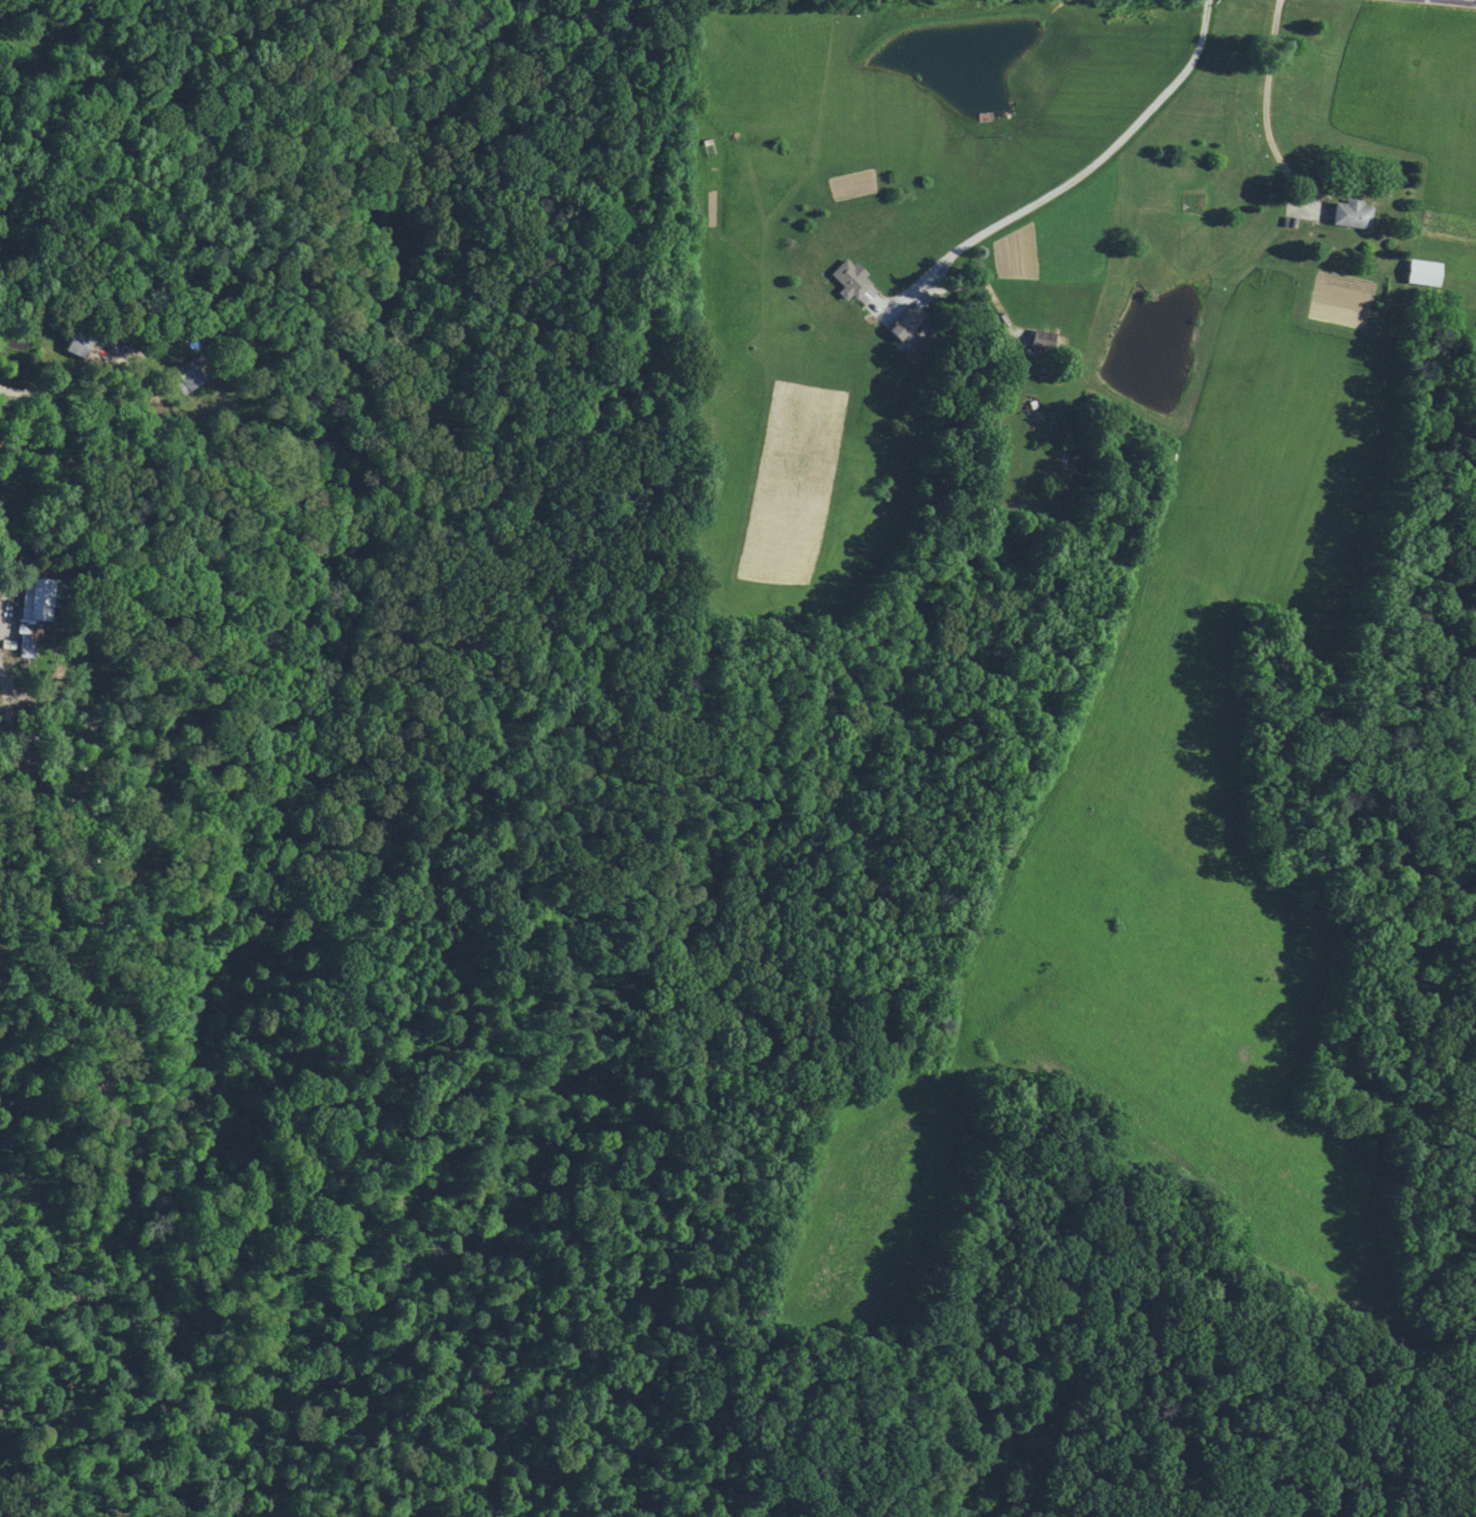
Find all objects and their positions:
road: (1266, 110)
road: (1067, 178)
building: (1350, 213)
building: (1420, 271)
building: (850, 281)
building: (903, 322)
building: (1040, 338)
building: (78, 342)
building: (188, 373)
road: (79, 397)
road: (6, 600)
building: (29, 611)

